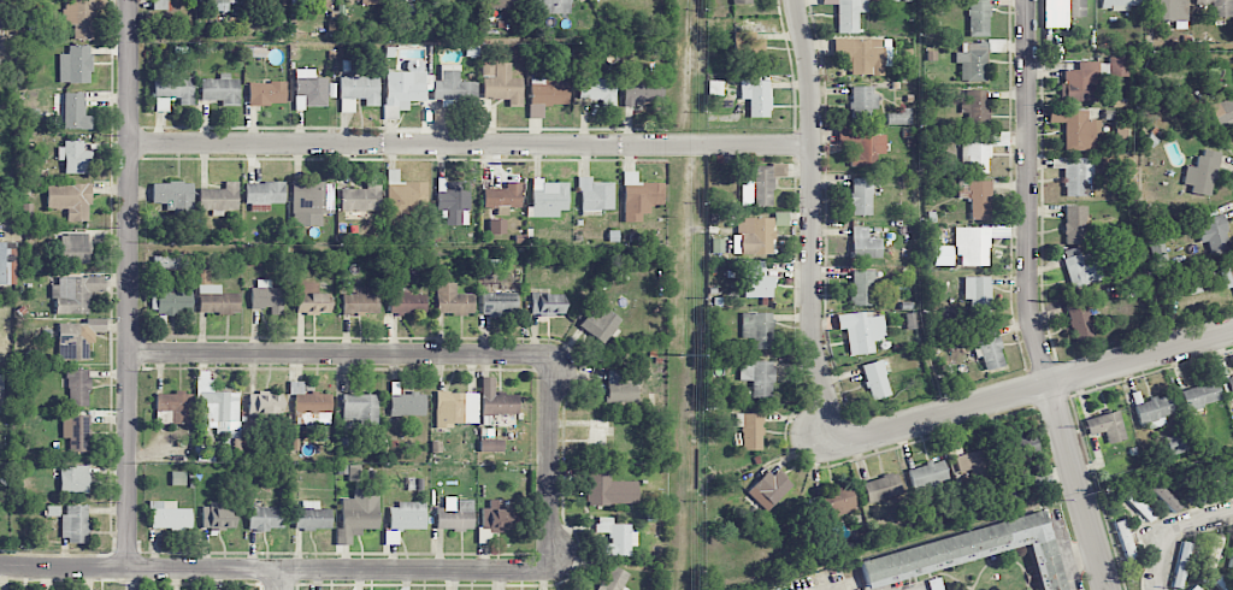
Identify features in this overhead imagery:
building: (307, 0)
building: (361, 0)
building: (741, 1)
building: (218, 4)
building: (505, 4)
building: (1117, 4)
building: (158, 5)
building: (550, 6)
building: (1217, 7)
building: (1168, 10)
building: (1062, 12)
building: (848, 13)
building: (978, 17)
building: (82, 18)
building: (748, 46)
building: (861, 54)
building: (972, 61)
building: (75, 64)
building: (1117, 66)
building: (501, 83)
building: (425, 88)
building: (220, 89)
building: (311, 89)
building: (172, 90)
building: (597, 90)
building: (359, 92)
building: (641, 92)
building: (266, 93)
building: (547, 94)
building: (756, 96)
building: (861, 102)
building: (974, 108)
building: (75, 111)
building: (1222, 112)
building: (898, 118)
building: (1075, 128)
road: (472, 144)
building: (862, 144)
building: (979, 151)
building: (73, 155)
building: (1202, 173)
building: (1078, 176)
building: (759, 183)
building: (265, 193)
road: (1028, 193)
building: (172, 194)
building: (405, 195)
building: (503, 195)
building: (638, 196)
building: (861, 196)
building: (219, 197)
building: (312, 197)
building: (360, 197)
building: (70, 199)
building: (547, 199)
building: (979, 199)
building: (453, 201)
road: (813, 222)
building: (1074, 224)
building: (1213, 232)
building: (755, 236)
building: (975, 242)
building: (863, 243)
building: (75, 248)
building: (1158, 248)
building: (7, 262)
building: (1080, 269)
building: (1227, 275)
building: (756, 279)
road: (130, 284)
building: (862, 287)
building: (75, 293)
building: (977, 294)
building: (266, 296)
building: (311, 299)
building: (173, 300)
building: (453, 300)
building: (496, 301)
building: (406, 302)
building: (360, 303)
building: (545, 303)
building: (1079, 320)
building: (600, 325)
building: (6, 329)
building: (757, 329)
building: (861, 331)
building: (77, 338)
building: (987, 348)
power tower: (683, 353)
road: (390, 354)
road: (1141, 358)
building: (757, 377)
building: (875, 379)
building: (1229, 385)
building: (77, 387)
building: (620, 388)
building: (1200, 394)
building: (496, 399)
building: (265, 403)
building: (173, 408)
building: (219, 408)
building: (360, 408)
building: (455, 408)
building: (1154, 411)
road: (943, 414)
building: (1105, 426)
building: (75, 431)
building: (753, 431)
building: (1175, 443)
building: (490, 444)
building: (1017, 447)
building: (973, 464)
building: (926, 476)
building: (73, 479)
building: (609, 488)
building: (880, 488)
road: (1079, 488)
building: (769, 489)
building: (1162, 495)
building: (834, 503)
building: (1135, 503)
building: (359, 512)
building: (169, 515)
building: (407, 515)
building: (455, 515)
building: (496, 515)
building: (217, 517)
building: (311, 517)
building: (265, 518)
building: (73, 523)
road: (1170, 527)
building: (616, 537)
building: (972, 550)
road: (1063, 555)
building: (1210, 556)
building: (1232, 561)
building: (1180, 565)
road: (64, 567)
road: (203, 570)
road: (473, 570)
road: (279, 579)
building: (613, 579)
building: (936, 583)
building: (1222, 584)
building: (1194, 588)

